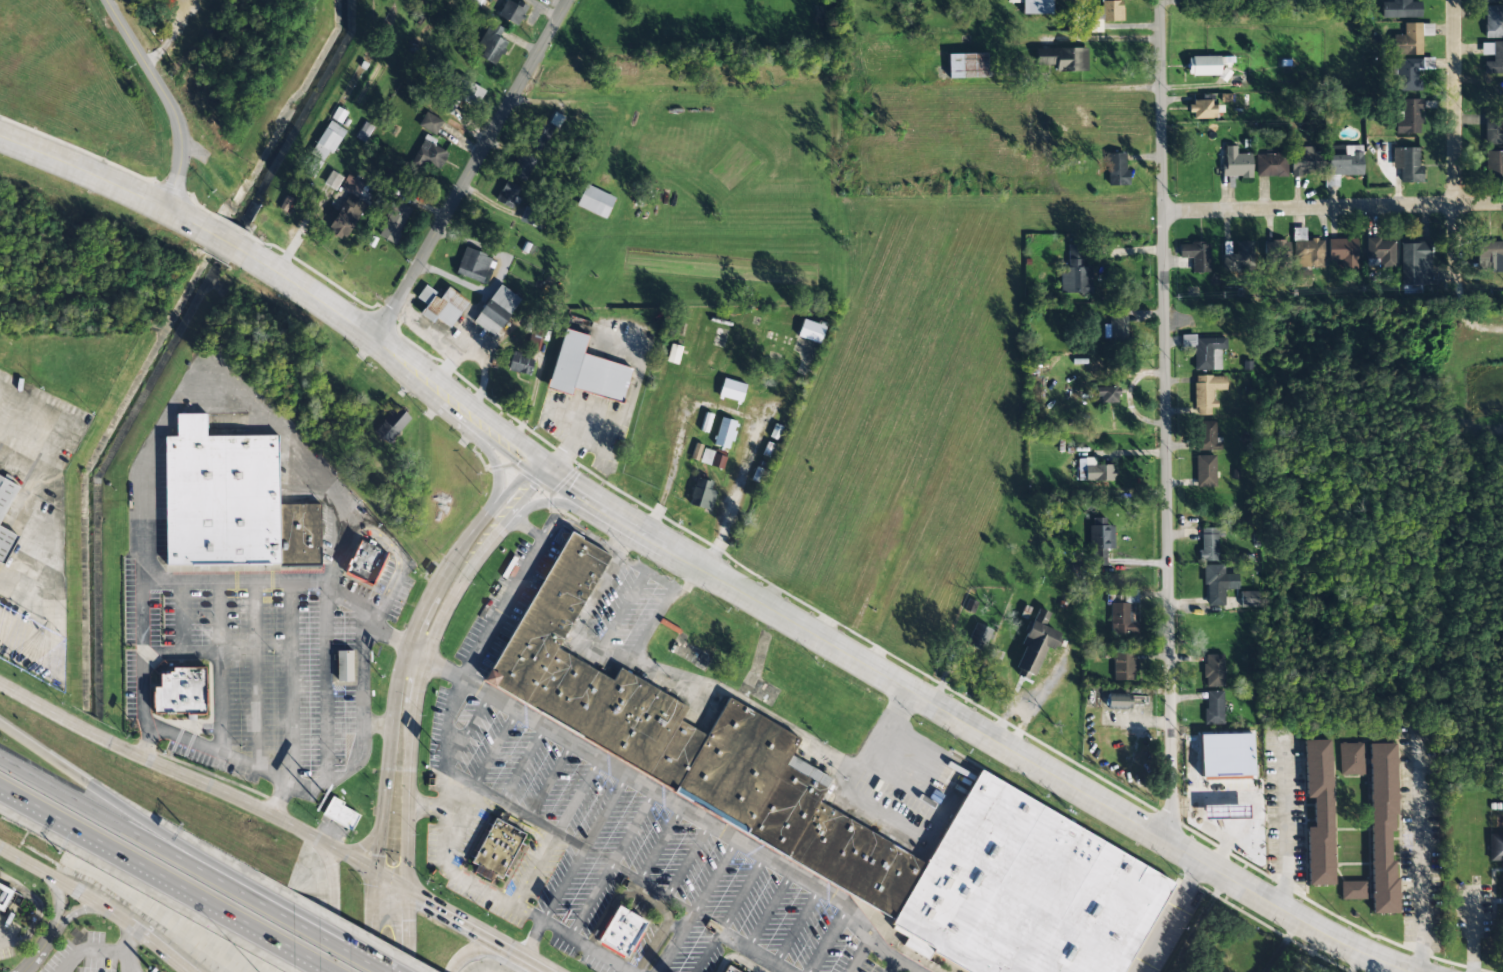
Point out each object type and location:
building: (1492, 0)
building: (474, 1)
building: (1012, 1)
building: (1036, 7)
building: (1400, 9)
building: (514, 11)
building: (1105, 14)
building: (1493, 21)
building: (1426, 29)
building: (1408, 40)
building: (491, 43)
building: (1492, 57)
building: (1063, 58)
building: (967, 65)
building: (1203, 65)
building: (1407, 74)
building: (469, 92)
road: (164, 97)
building: (338, 115)
building: (1408, 117)
building: (430, 123)
building: (1493, 130)
building: (364, 132)
building: (540, 134)
building: (327, 141)
road: (1456, 141)
building: (429, 154)
building: (1305, 161)
building: (1346, 162)
road: (473, 163)
building: (1236, 163)
building: (1407, 164)
building: (1493, 164)
building: (1270, 165)
building: (522, 166)
building: (1115, 169)
building: (332, 180)
road: (131, 190)
building: (508, 195)
building: (595, 201)
road: (1333, 207)
building: (348, 208)
building: (533, 218)
building: (394, 222)
building: (1275, 248)
building: (1343, 252)
building: (1382, 252)
building: (1240, 254)
building: (1490, 255)
building: (1196, 256)
building: (1415, 263)
building: (474, 265)
building: (1075, 274)
building: (1303, 277)
building: (442, 307)
building: (496, 310)
road: (1467, 319)
building: (1116, 327)
building: (811, 330)
road: (402, 343)
building: (1207, 353)
building: (673, 354)
building: (520, 364)
building: (586, 371)
building: (731, 390)
building: (1206, 392)
building: (1108, 395)
road: (1166, 422)
building: (392, 425)
building: (725, 433)
building: (1208, 437)
building: (696, 451)
building: (712, 459)
road: (141, 464)
building: (1093, 470)
building: (1205, 471)
building: (235, 491)
building: (702, 494)
building: (6, 495)
road: (529, 529)
road: (625, 533)
building: (1099, 540)
building: (1210, 543)
building: (6, 544)
building: (380, 555)
building: (365, 563)
road: (398, 563)
road: (523, 575)
building: (1217, 584)
building: (1248, 599)
road: (182, 615)
road: (418, 616)
building: (1122, 618)
building: (978, 637)
road: (642, 638)
road: (587, 644)
building: (1036, 644)
road: (429, 646)
road: (181, 652)
building: (362, 660)
road: (219, 665)
building: (344, 666)
building: (1123, 666)
road: (142, 667)
building: (1213, 670)
road: (255, 673)
road: (325, 679)
road: (290, 680)
building: (194, 685)
building: (1118, 701)
building: (1213, 707)
road: (970, 720)
road: (470, 724)
road: (376, 725)
road: (362, 728)
building: (709, 739)
road: (495, 747)
building: (1225, 756)
building: (1351, 759)
road: (235, 760)
road: (522, 763)
road: (162, 764)
road: (550, 779)
road: (577, 795)
road: (679, 806)
road: (514, 807)
building: (1319, 812)
road: (130, 814)
building: (340, 814)
building: (1214, 815)
building: (1382, 827)
road: (146, 838)
road: (360, 843)
road: (660, 844)
building: (496, 846)
road: (584, 846)
building: (1495, 847)
traffic signals: (377, 855)
road: (351, 859)
road: (687, 860)
road: (610, 862)
road: (145, 868)
road: (407, 877)
road: (371, 886)
road: (651, 888)
building: (11, 889)
building: (1037, 889)
building: (1352, 890)
road: (497, 893)
road: (60, 899)
traffic signals: (425, 899)
road: (96, 903)
road: (697, 905)
road: (438, 906)
road: (330, 909)
road: (76, 910)
road: (769, 910)
road: (729, 913)
road: (1168, 916)
traffic signals: (410, 920)
road: (796, 925)
road: (410, 930)
building: (620, 931)
road: (533, 937)
road: (827, 940)
road: (337, 947)
road: (470, 948)
road: (40, 949)
road: (753, 952)
road: (858, 954)
road: (527, 957)
road: (312, 960)
road: (371, 963)
road: (894, 966)
building: (748, 968)
building: (728, 969)

